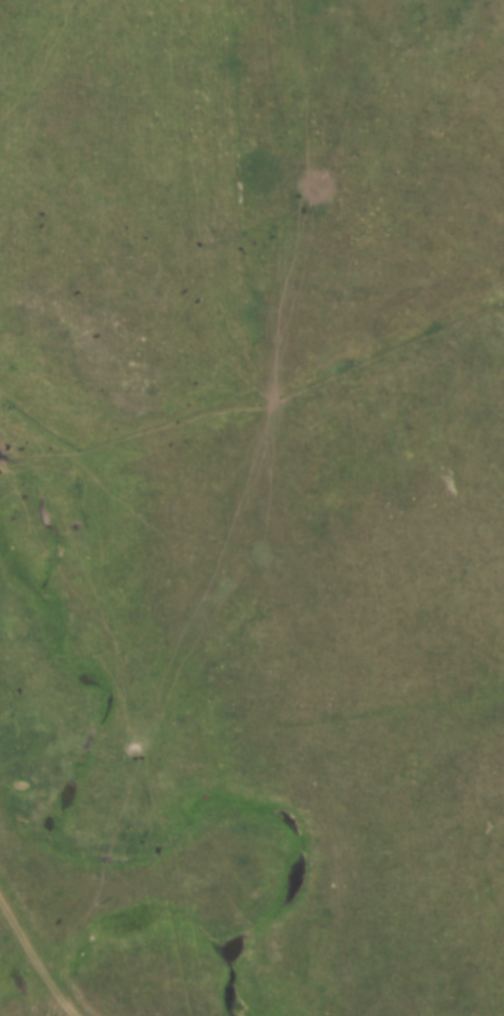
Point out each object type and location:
road: (36, 960)

